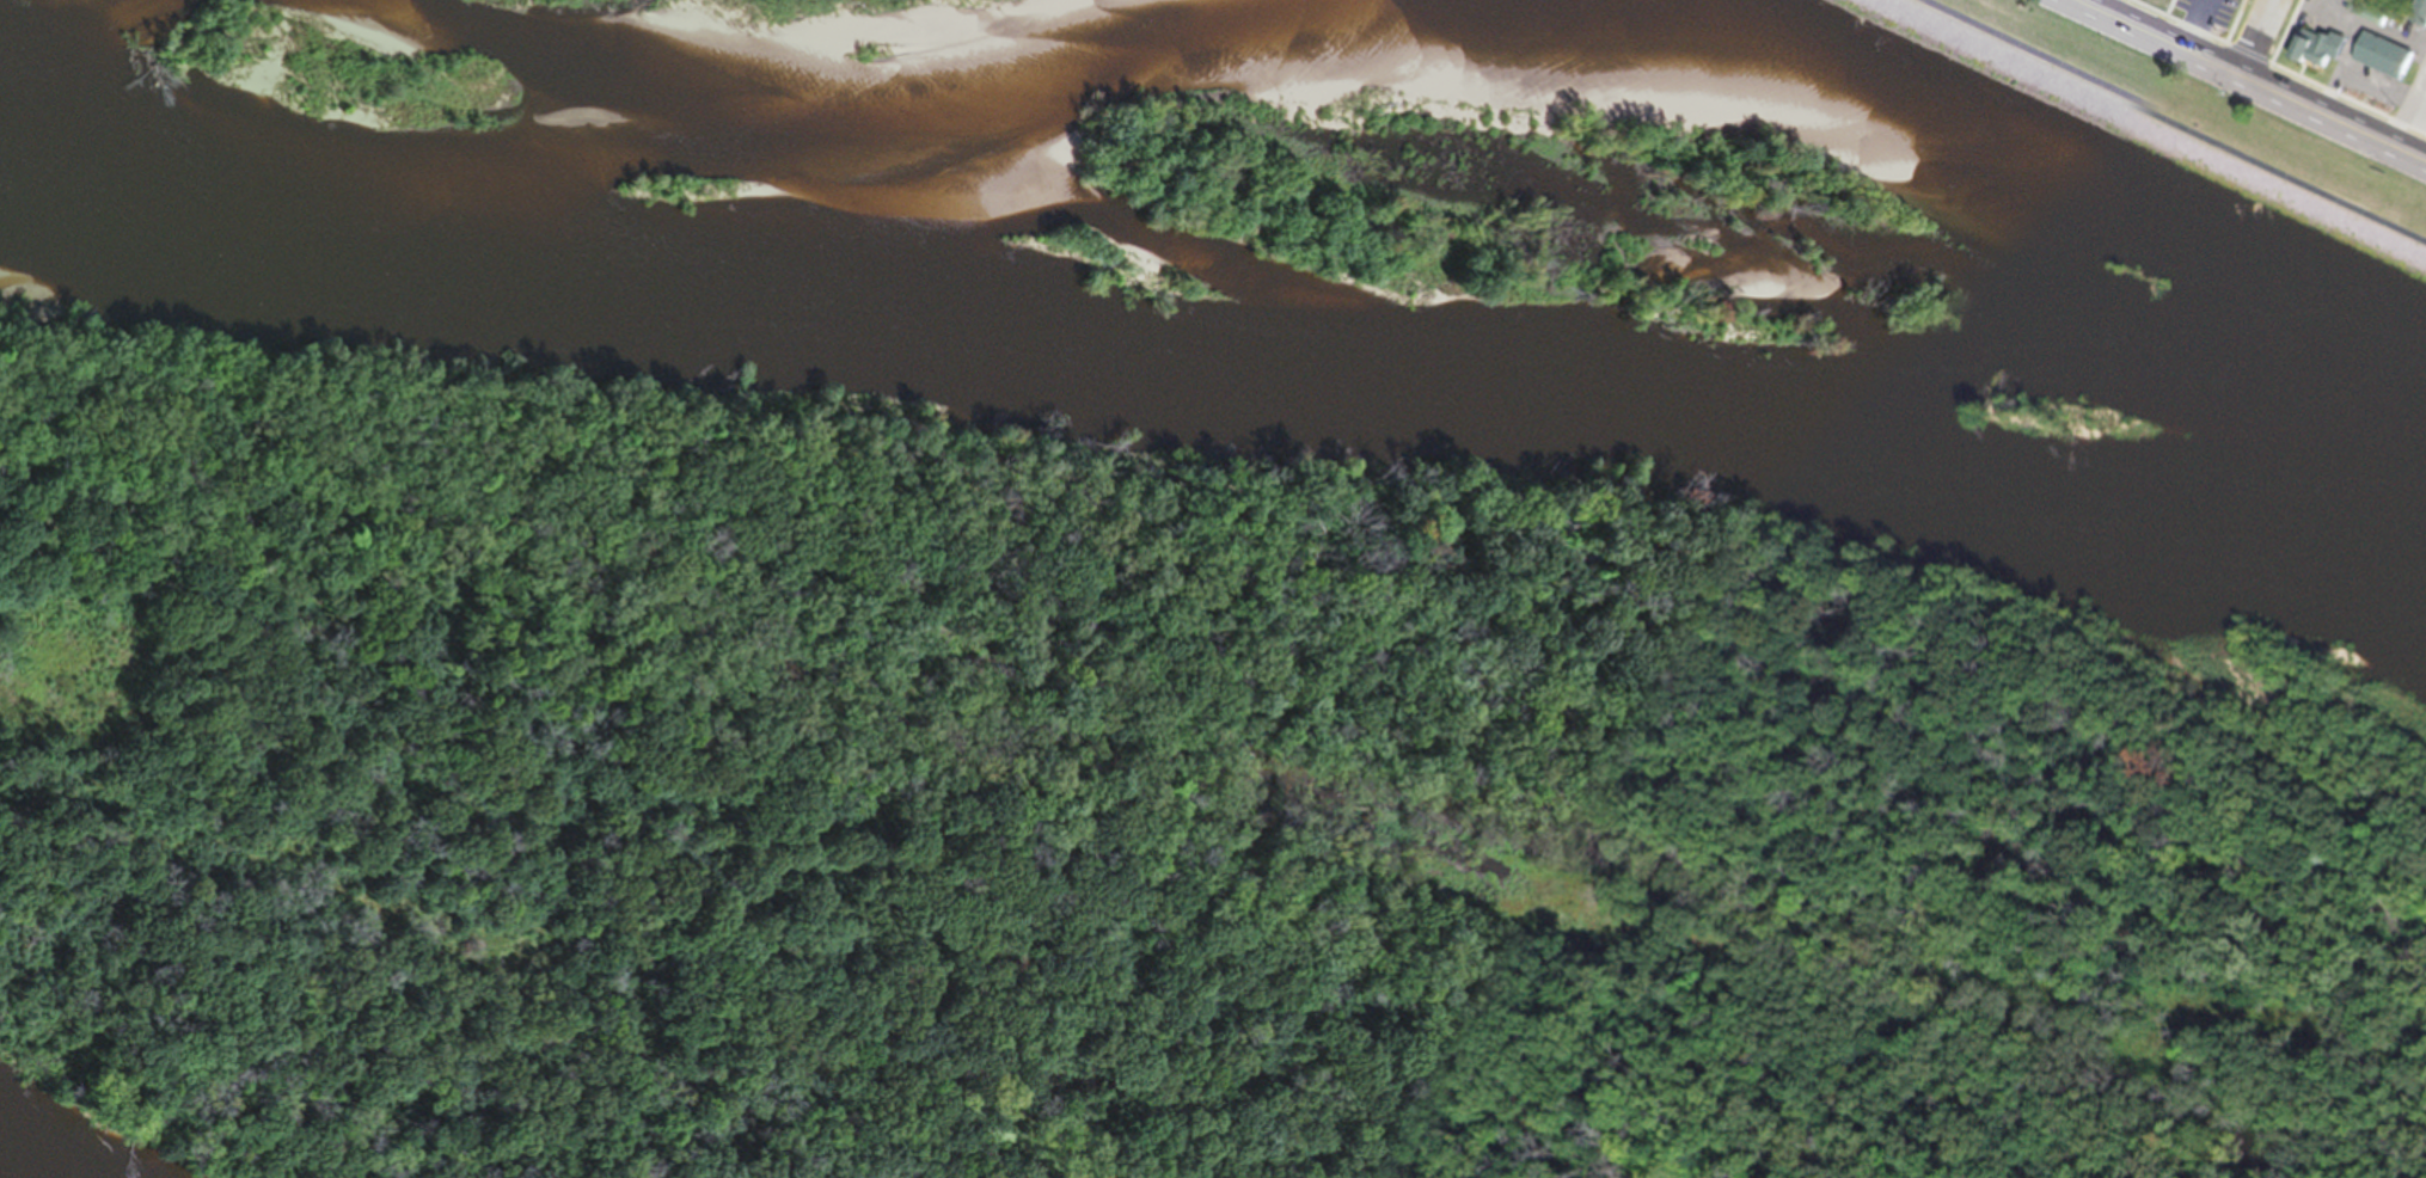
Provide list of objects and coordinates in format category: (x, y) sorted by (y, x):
building: (2155, 0)
road: (2088, 6)
building: (2416, 17)
road: (2255, 41)
building: (2314, 56)
building: (2377, 63)
road: (2241, 85)
road: (2407, 111)
road: (2161, 123)
park: (2169, 123)

